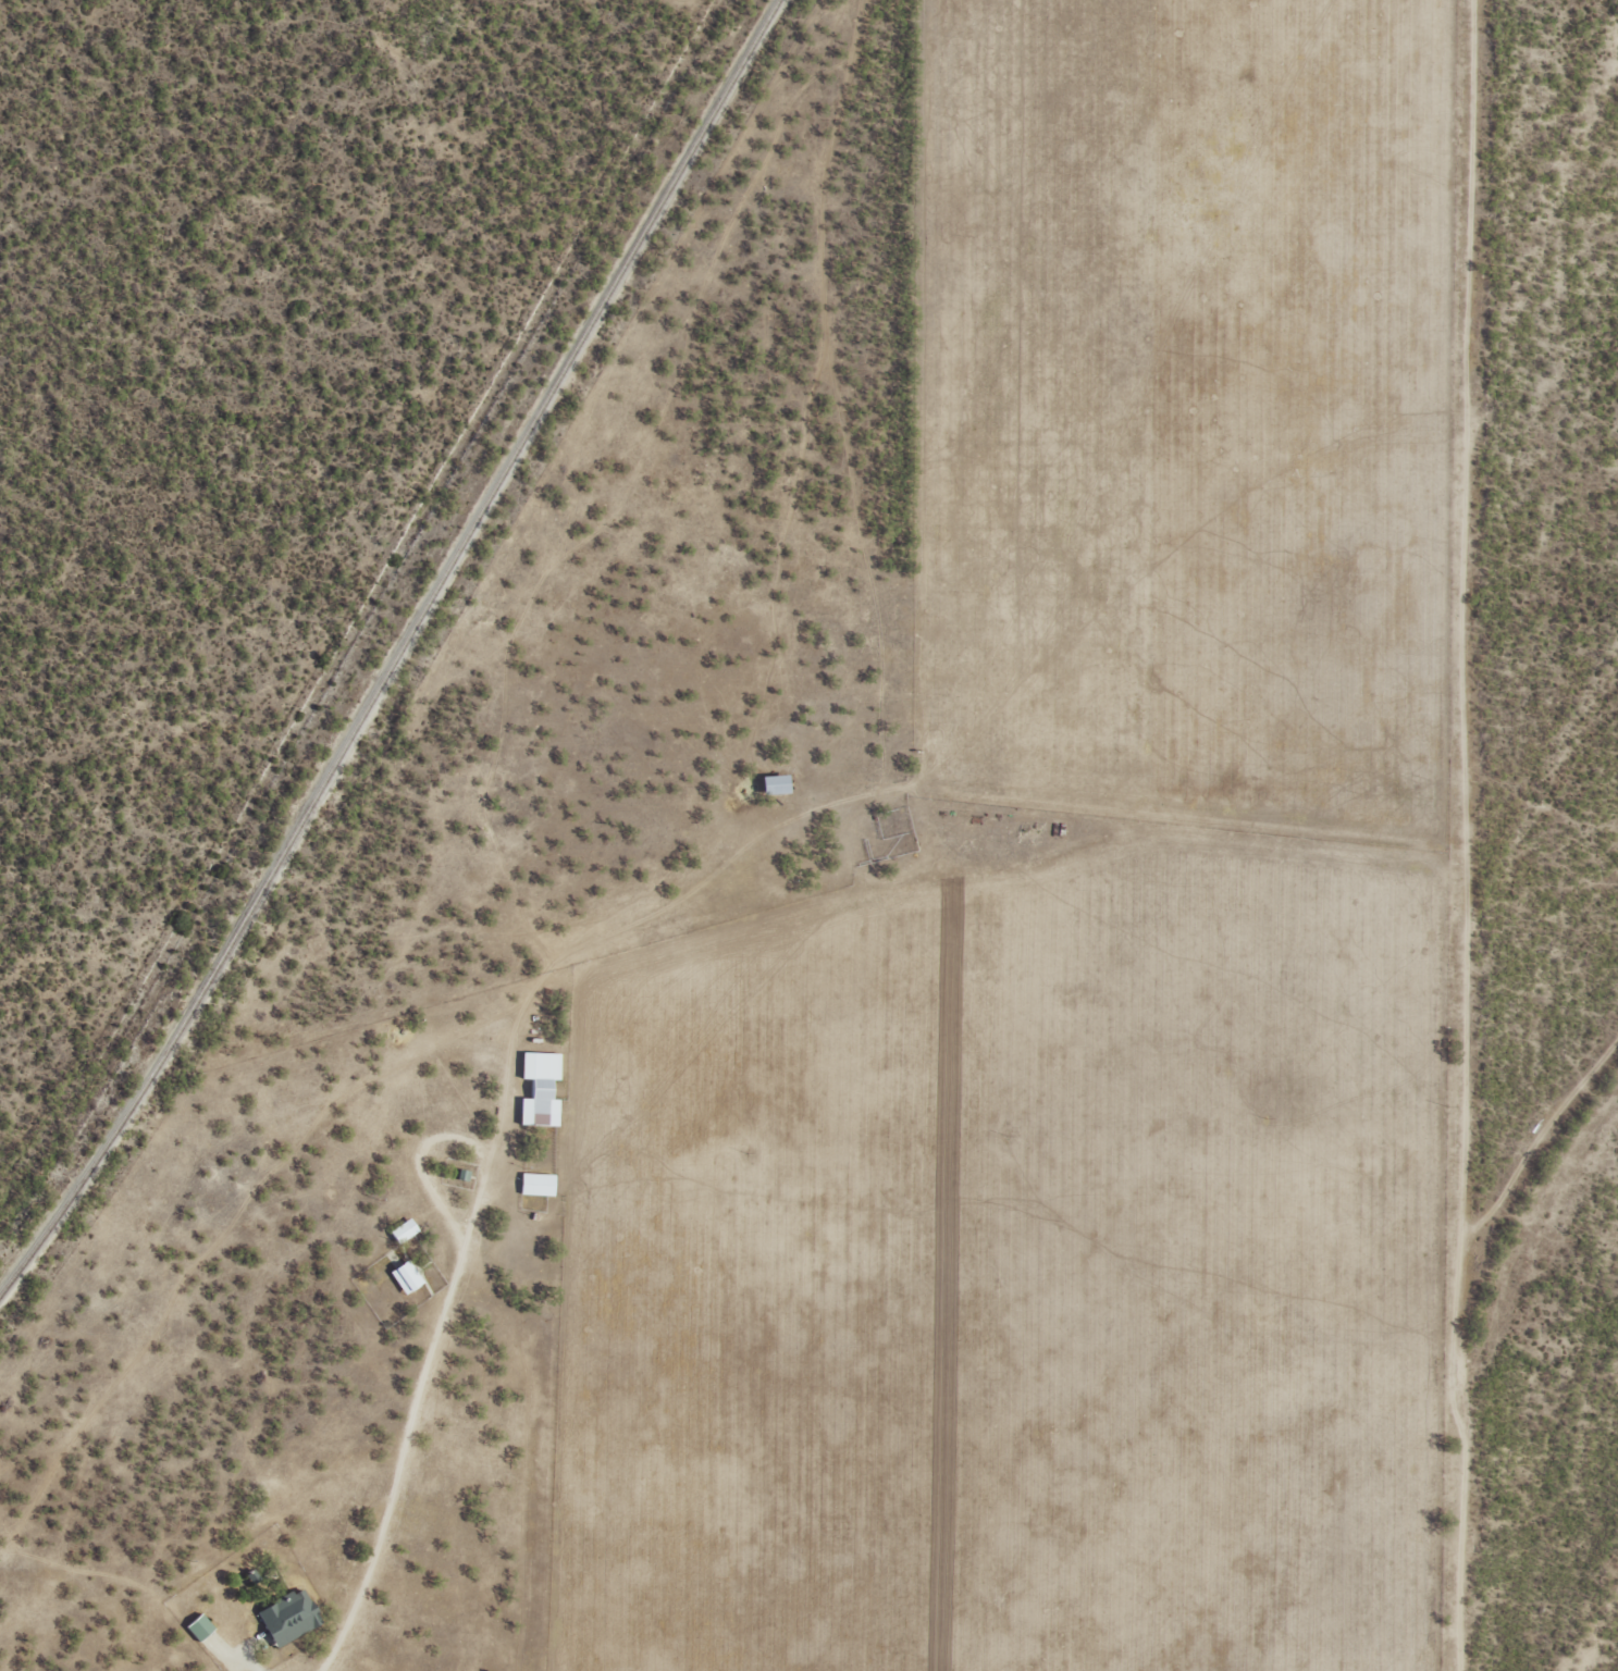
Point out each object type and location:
railway: (396, 649)
building: (769, 784)
road: (737, 856)
building: (538, 1087)
building: (534, 1183)
building: (400, 1229)
building: (403, 1274)
building: (284, 1617)
building: (196, 1625)

